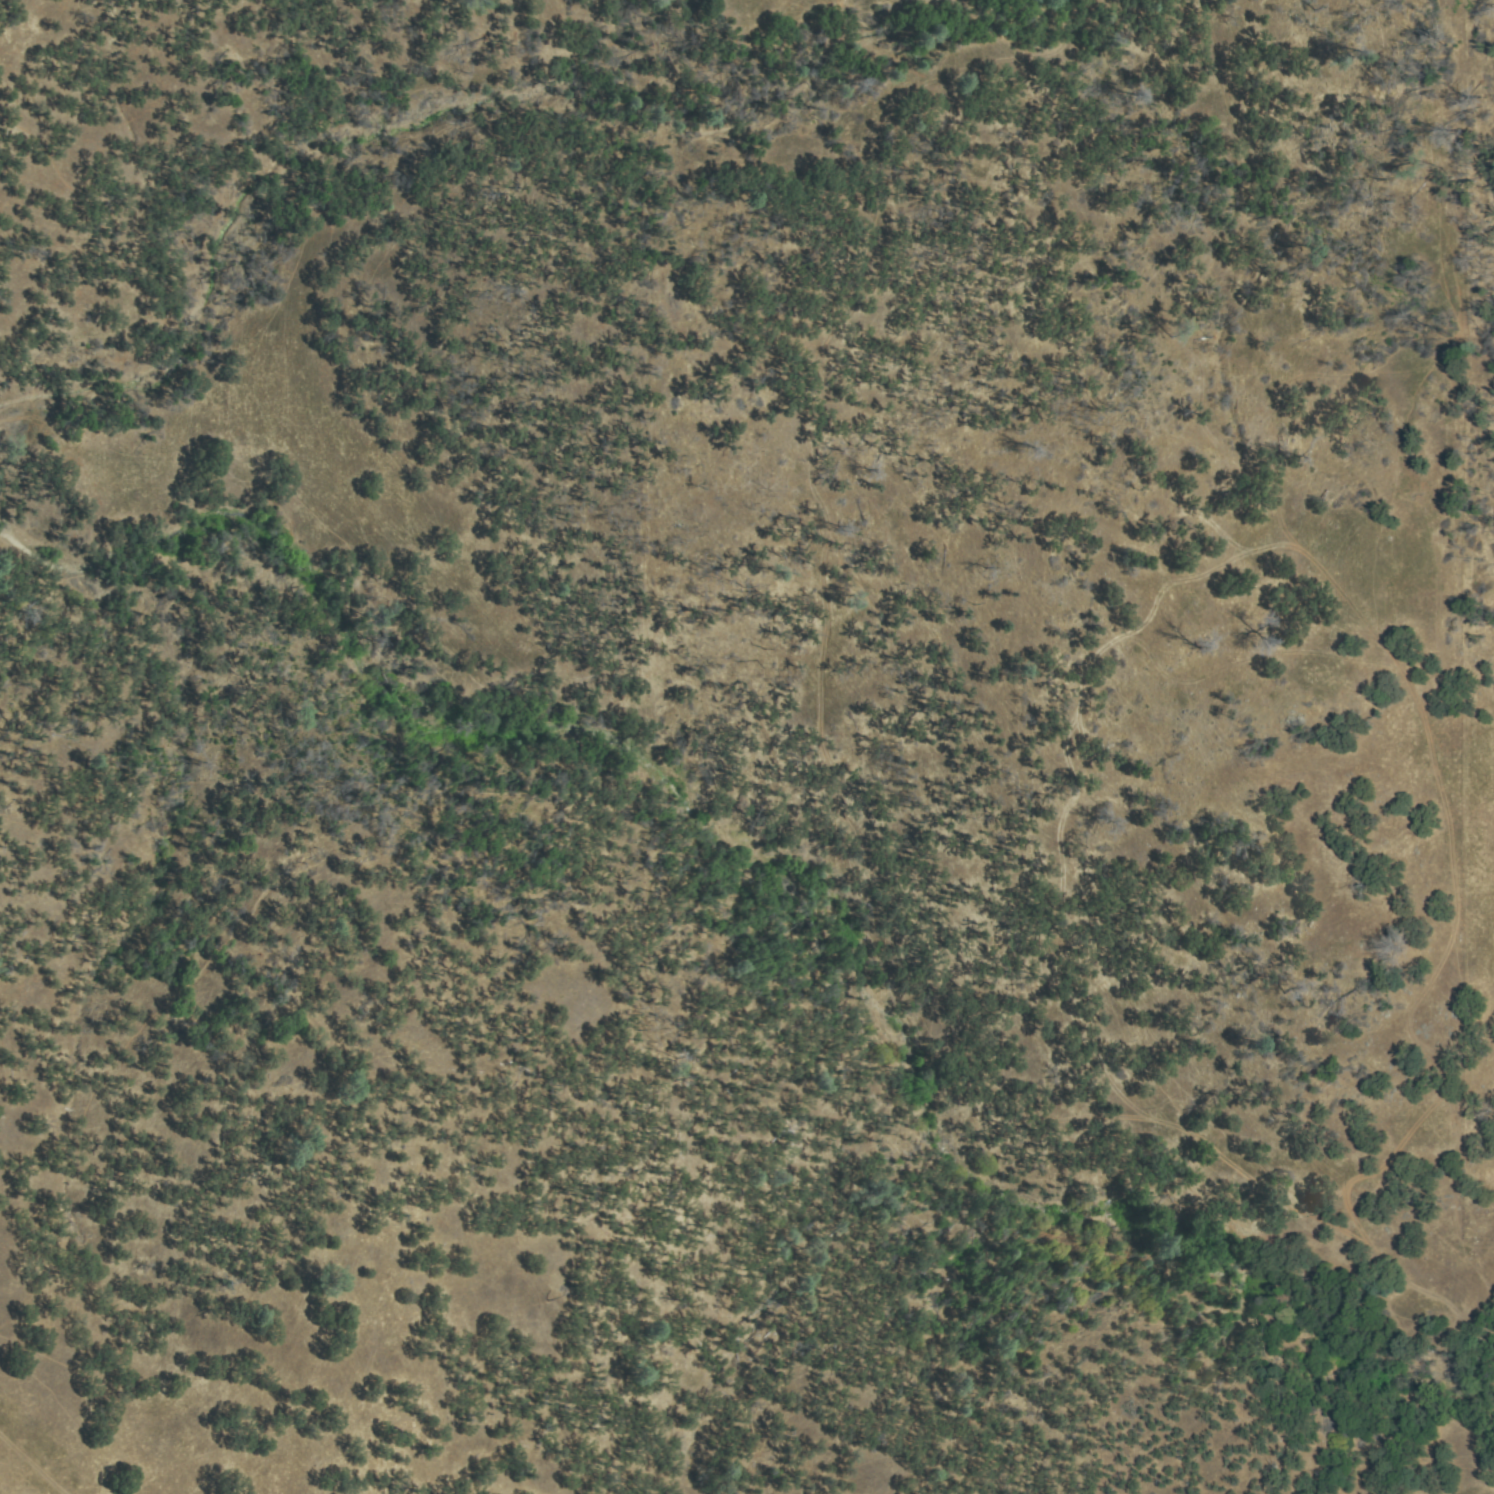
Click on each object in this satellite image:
building: (1450, 1361)

